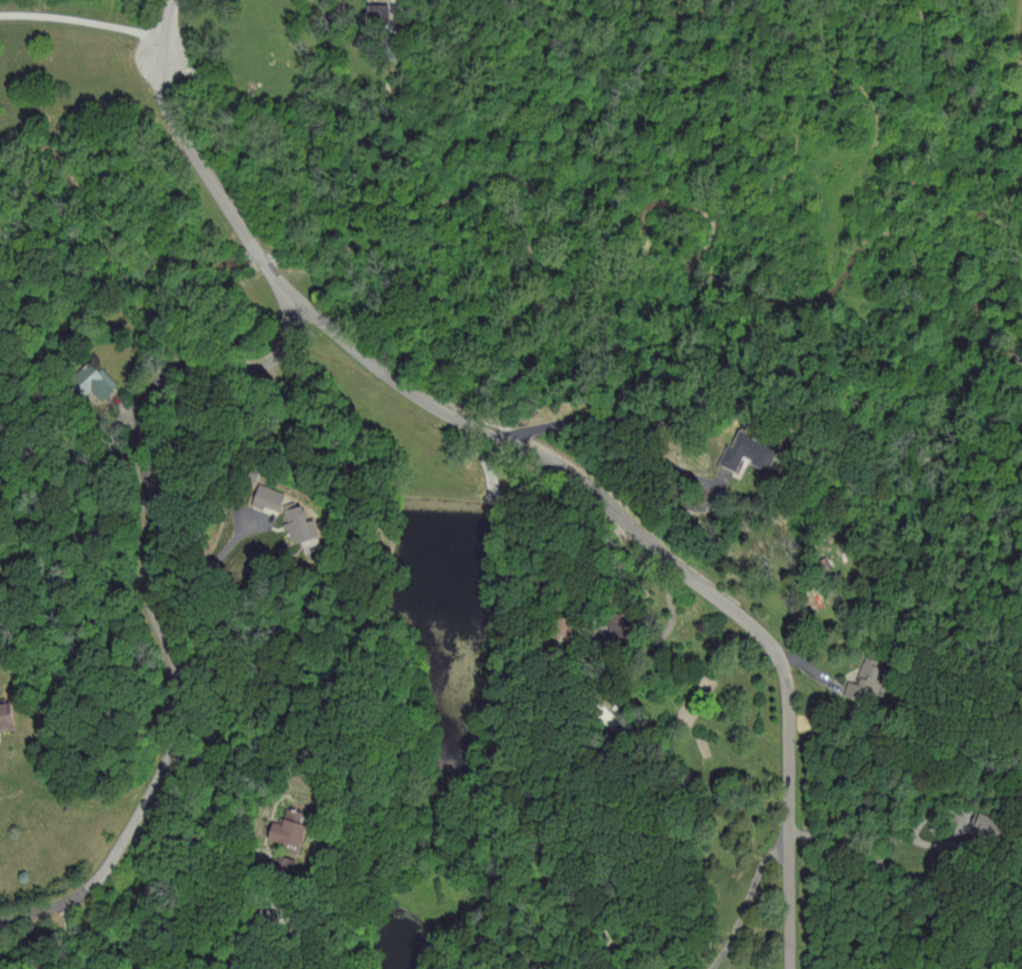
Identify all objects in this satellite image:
building: (368, 13)
road: (83, 21)
road: (195, 158)
building: (93, 381)
road: (620, 434)
building: (744, 453)
building: (266, 496)
building: (295, 523)
road: (670, 551)
road: (209, 595)
road: (150, 598)
road: (668, 632)
building: (849, 689)
building: (5, 717)
building: (284, 828)
road: (918, 829)
road: (256, 876)
road: (752, 906)
road: (908, 934)
road: (73, 939)

